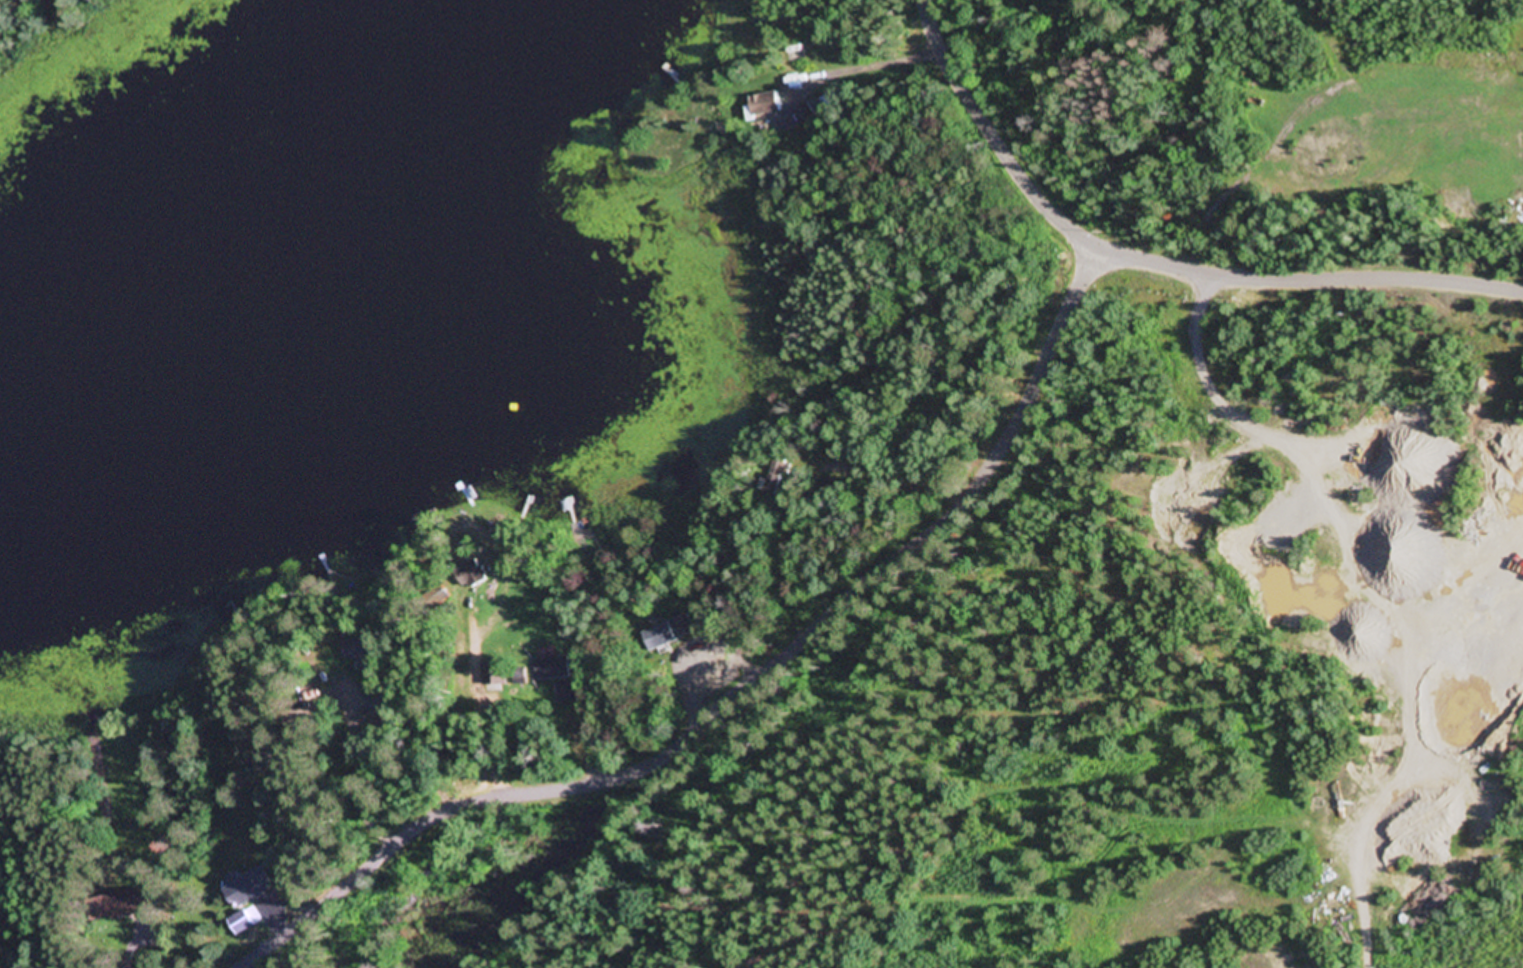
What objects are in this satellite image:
building: (797, 55)
building: (768, 105)
building: (817, 108)
road: (1159, 259)
building: (473, 573)
building: (684, 627)
building: (660, 637)
building: (361, 654)
building: (553, 669)
building: (496, 676)
building: (564, 693)
road: (746, 693)
building: (380, 708)
building: (250, 889)
building: (120, 907)

